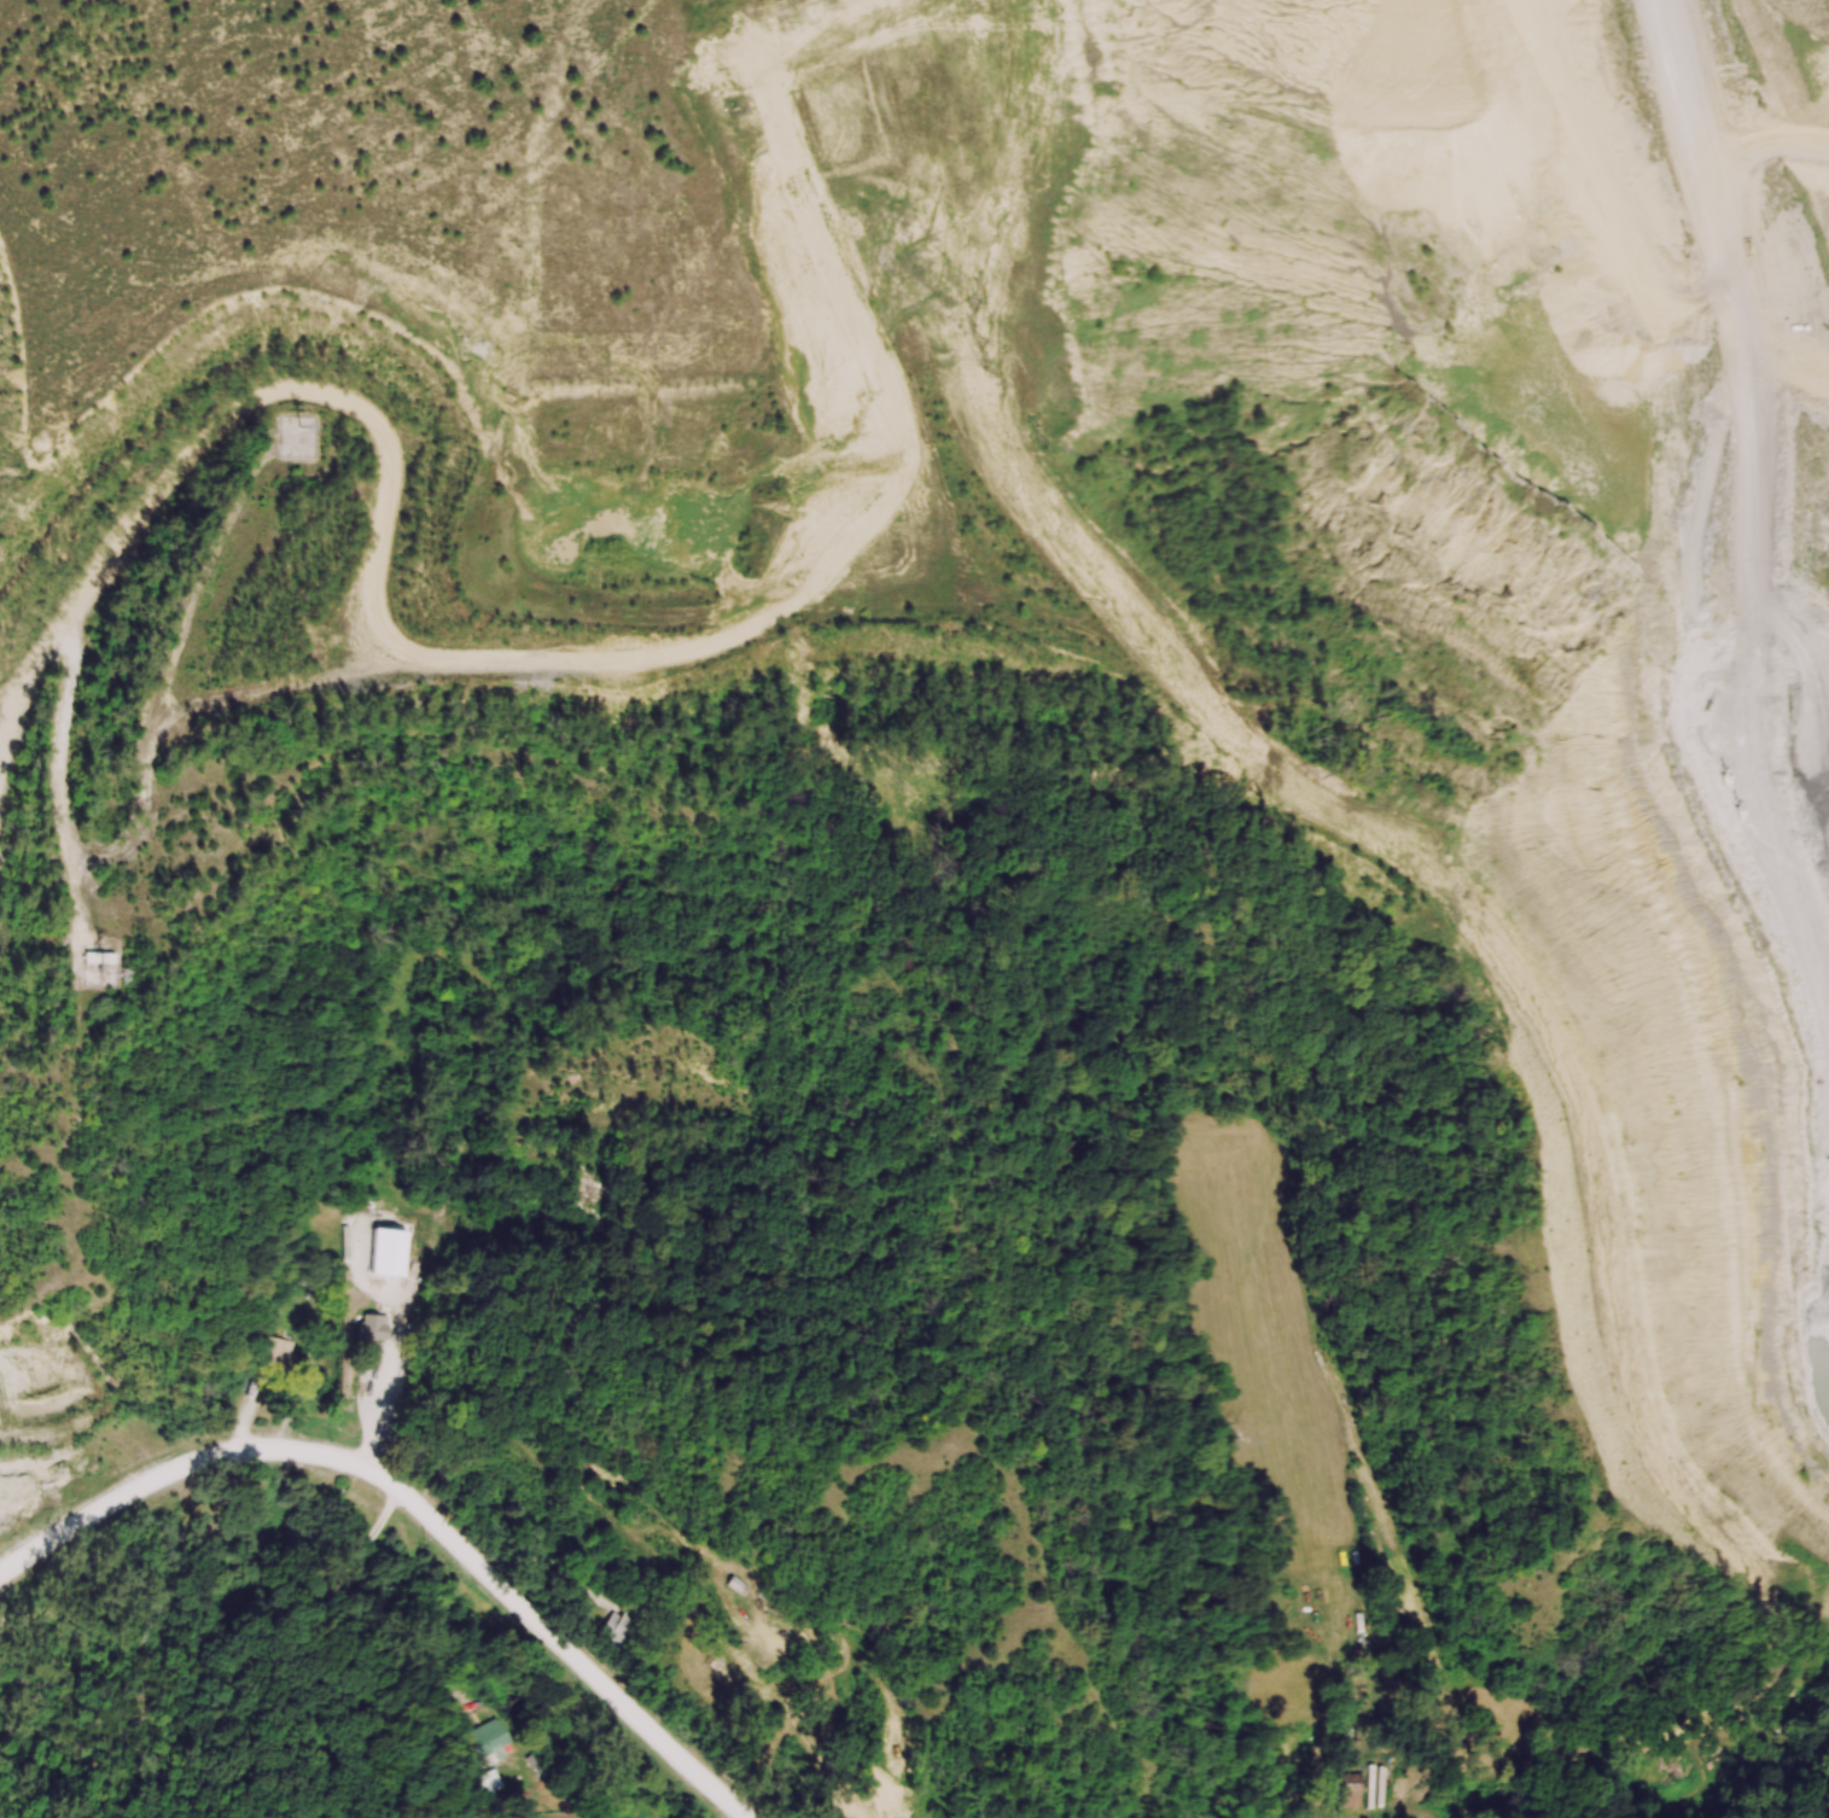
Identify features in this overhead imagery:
quarry: (1135, 467)
road: (135, 841)
building: (94, 958)
building: (589, 1189)
building: (392, 1276)
building: (372, 1328)
building: (274, 1356)
road: (415, 1503)
road: (357, 1609)
building: (621, 1628)
building: (491, 1756)

